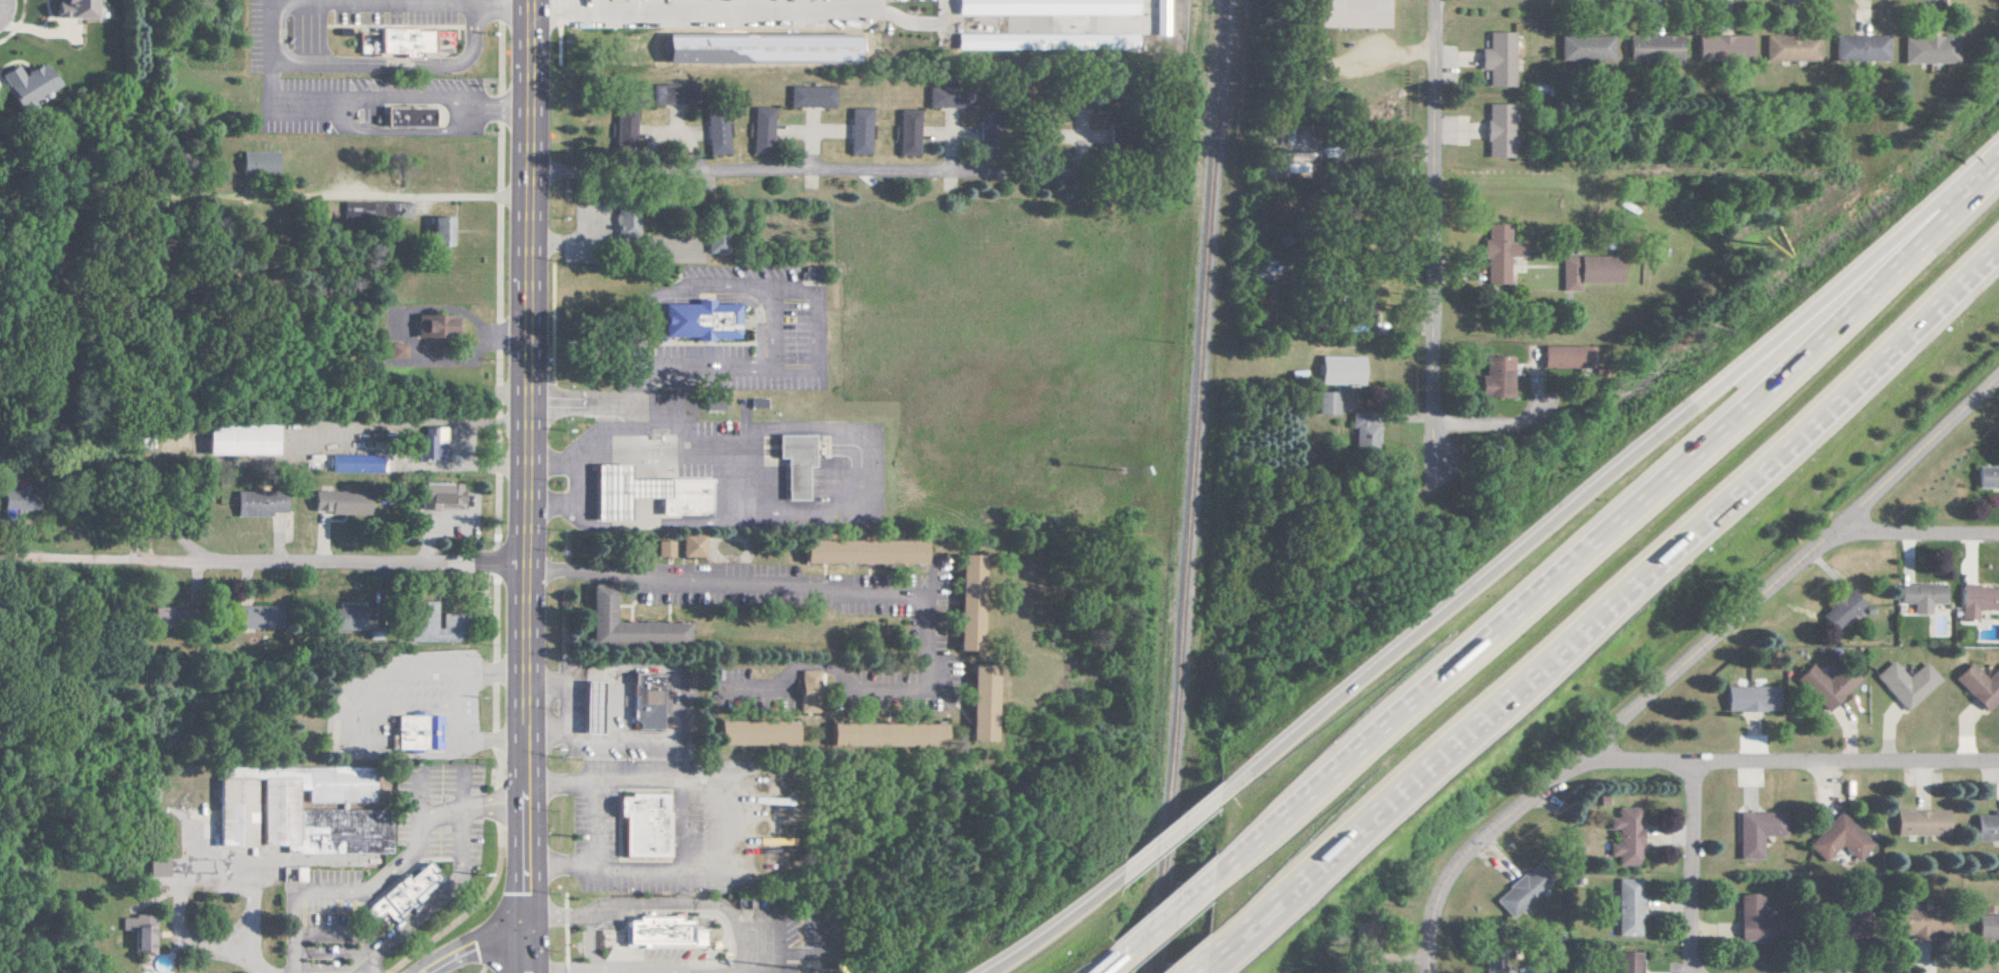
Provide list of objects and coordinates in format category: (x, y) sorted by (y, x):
road: (481, 4)
building: (1044, 7)
building: (70, 9)
road: (721, 10)
road: (942, 11)
road: (564, 12)
building: (1350, 13)
road: (898, 17)
building: (1159, 17)
road: (1053, 24)
building: (1043, 42)
building: (406, 43)
building: (1585, 48)
building: (1653, 48)
building: (1722, 48)
building: (1790, 48)
building: (1859, 48)
building: (1929, 50)
building: (1497, 59)
road: (390, 67)
building: (25, 86)
road: (404, 92)
building: (671, 94)
building: (810, 97)
building: (943, 98)
road: (308, 102)
road: (499, 102)
building: (409, 118)
building: (623, 128)
building: (761, 130)
road: (406, 131)
building: (1498, 131)
building: (859, 132)
building: (907, 133)
building: (716, 136)
building: (256, 163)
road: (808, 175)
road: (392, 192)
building: (375, 211)
building: (626, 225)
building: (438, 232)
building: (717, 244)
building: (1497, 254)
road: (1435, 261)
building: (1589, 270)
road: (672, 298)
building: (702, 321)
building: (433, 325)
road: (773, 333)
building: (394, 350)
building: (1569, 356)
building: (1340, 370)
road: (769, 372)
building: (1497, 376)
building: (1326, 402)
building: (712, 404)
building: (1364, 432)
building: (238, 440)
building: (428, 445)
road: (555, 458)
building: (353, 463)
building: (796, 463)
road: (739, 466)
road: (1607, 475)
building: (1987, 477)
road: (583, 479)
road: (527, 486)
railway: (1185, 486)
building: (622, 489)
building: (436, 494)
building: (685, 495)
building: (17, 502)
building: (256, 503)
building: (337, 503)
road: (1608, 526)
road: (1919, 537)
building: (691, 546)
building: (663, 548)
building: (860, 551)
road: (96, 563)
road: (334, 563)
road: (1636, 577)
road: (892, 589)
building: (1920, 596)
building: (1977, 600)
building: (967, 602)
building: (1840, 609)
building: (256, 618)
building: (431, 623)
building: (625, 624)
road: (1690, 667)
building: (1905, 683)
building: (1825, 685)
building: (1979, 685)
building: (806, 691)
building: (1751, 698)
building: (649, 701)
building: (980, 702)
building: (595, 707)
road: (457, 712)
building: (421, 732)
building: (753, 732)
building: (885, 734)
road: (1789, 766)
road: (471, 806)
building: (237, 812)
building: (322, 814)
building: (1921, 822)
building: (646, 825)
road: (736, 825)
building: (1986, 826)
road: (1168, 833)
building: (1755, 833)
building: (1625, 836)
building: (1838, 839)
building: (157, 867)
road: (1695, 869)
road: (195, 872)
road: (374, 883)
building: (1521, 892)
building: (406, 893)
road: (438, 897)
building: (1627, 907)
building: (1750, 918)
road: (782, 921)
road: (1159, 921)
building: (1919, 924)
road: (1053, 926)
building: (1987, 927)
road: (1236, 928)
building: (140, 932)
building: (658, 932)
road: (294, 937)
road: (1239, 937)
building: (1365, 942)
road: (472, 947)
building: (1625, 962)
road: (258, 964)
road: (1195, 964)
building: (1503, 968)
road: (1104, 969)

